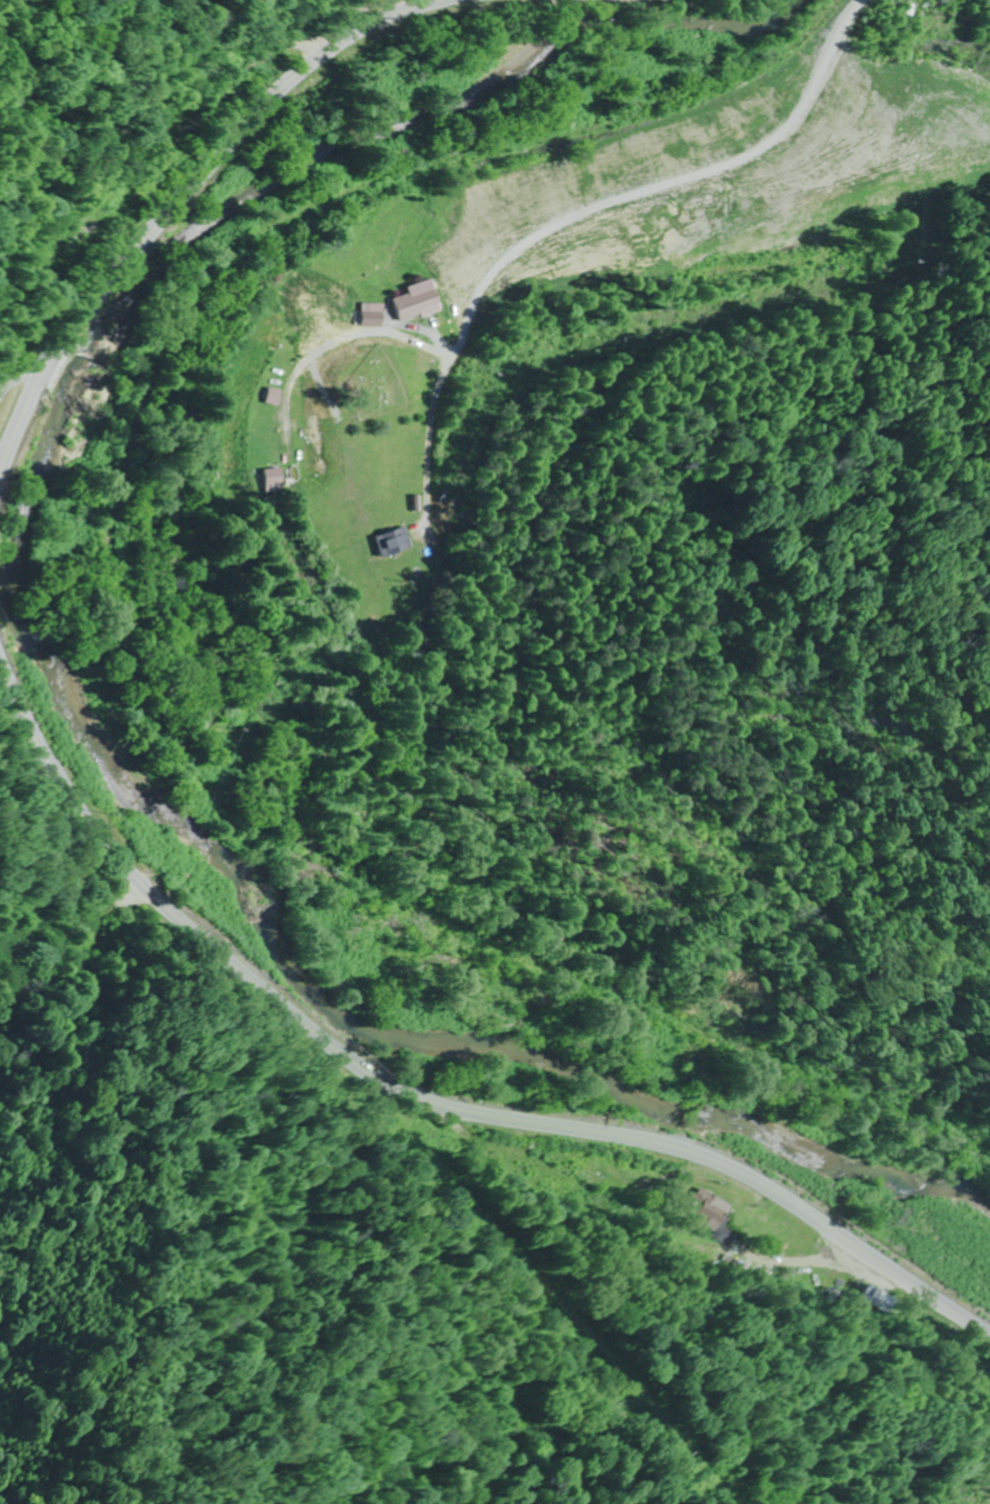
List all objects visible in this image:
building: (889, 14)
building: (909, 17)
road: (613, 149)
road: (184, 202)
building: (69, 251)
building: (414, 301)
road: (426, 440)
building: (268, 480)
building: (389, 542)
railway: (149, 644)
road: (417, 1097)
building: (707, 1209)
building: (876, 1298)

